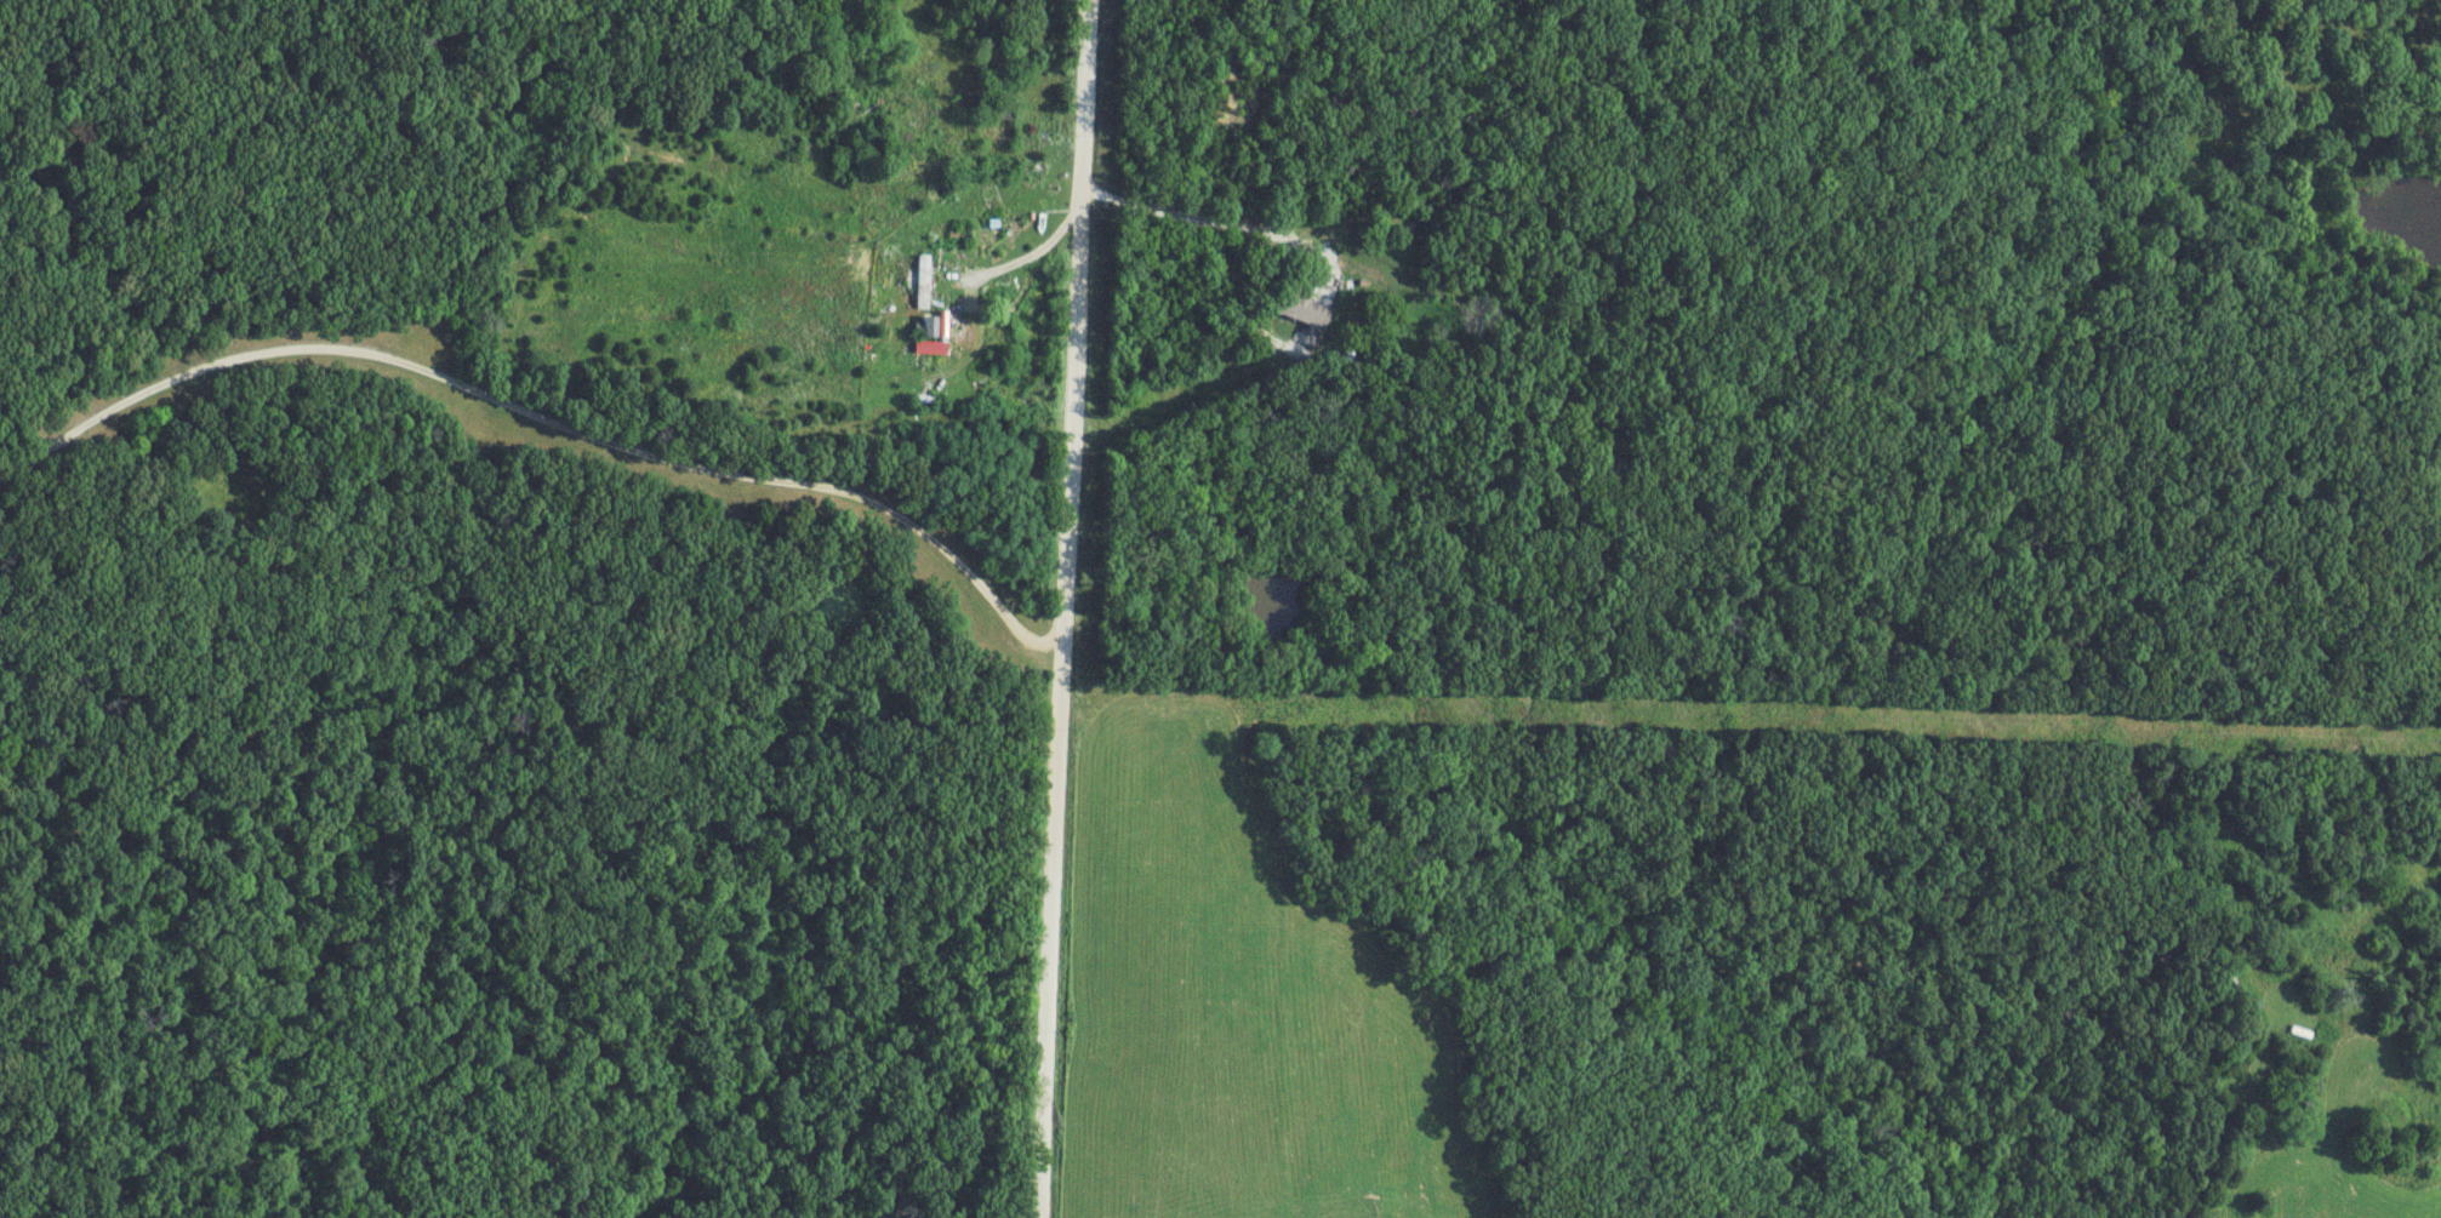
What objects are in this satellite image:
building: (998, 110)
road: (1219, 224)
road: (1011, 264)
building: (925, 285)
building: (1305, 310)
building: (929, 326)
road: (542, 417)
road: (1061, 608)

